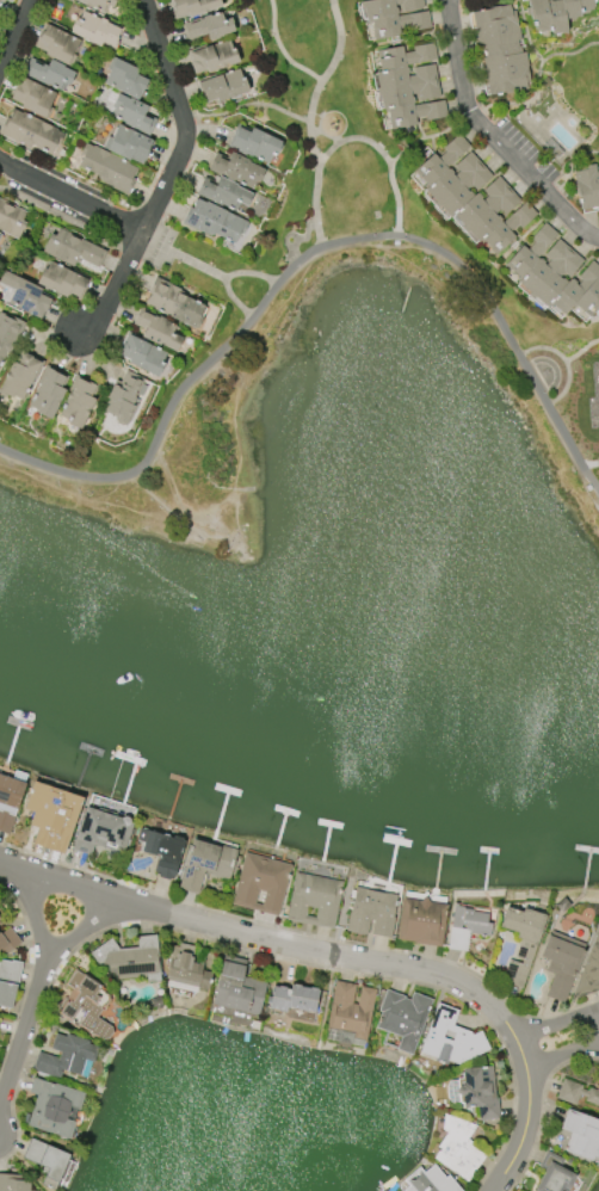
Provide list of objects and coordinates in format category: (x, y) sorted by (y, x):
building: (97, 4)
building: (193, 7)
building: (556, 13)
building: (394, 17)
building: (209, 26)
building: (95, 30)
road: (14, 31)
building: (57, 44)
road: (282, 50)
building: (500, 50)
building: (212, 57)
building: (49, 74)
building: (125, 79)
building: (222, 86)
building: (408, 86)
building: (33, 97)
road: (246, 104)
building: (134, 113)
road: (309, 119)
road: (317, 125)
building: (551, 131)
building: (31, 132)
road: (315, 134)
road: (427, 137)
road: (490, 137)
road: (335, 141)
building: (129, 144)
building: (254, 144)
road: (382, 154)
building: (107, 167)
building: (236, 169)
building: (587, 186)
road: (161, 191)
building: (224, 193)
building: (474, 196)
building: (11, 220)
building: (215, 221)
park: (372, 230)
road: (288, 235)
building: (73, 249)
road: (310, 253)
road: (206, 270)
building: (556, 274)
building: (62, 282)
road: (115, 286)
building: (25, 295)
road: (235, 300)
building: (174, 303)
building: (158, 329)
building: (8, 333)
road: (581, 350)
building: (144, 353)
road: (564, 362)
building: (20, 377)
building: (49, 394)
building: (124, 396)
building: (79, 403)
road: (591, 464)
river: (292, 721)
building: (8, 801)
building: (53, 815)
building: (95, 831)
building: (162, 851)
building: (205, 865)
building: (261, 884)
building: (315, 901)
road: (32, 903)
building: (563, 905)
building: (371, 913)
building: (0, 918)
road: (89, 921)
building: (422, 922)
building: (467, 927)
road: (304, 930)
building: (8, 940)
building: (521, 942)
road: (347, 958)
building: (130, 959)
building: (561, 963)
building: (187, 969)
building: (589, 973)
building: (8, 982)
building: (239, 987)
building: (294, 998)
building: (156, 1001)
building: (87, 1004)
building: (351, 1014)
building: (403, 1018)
road: (24, 1032)
building: (450, 1039)
road: (563, 1044)
building: (66, 1056)
building: (476, 1092)
building: (576, 1093)
building: (54, 1107)
road: (541, 1107)
building: (582, 1135)
building: (459, 1148)
building: (48, 1161)
building: (554, 1174)
building: (430, 1180)
building: (13, 1184)

